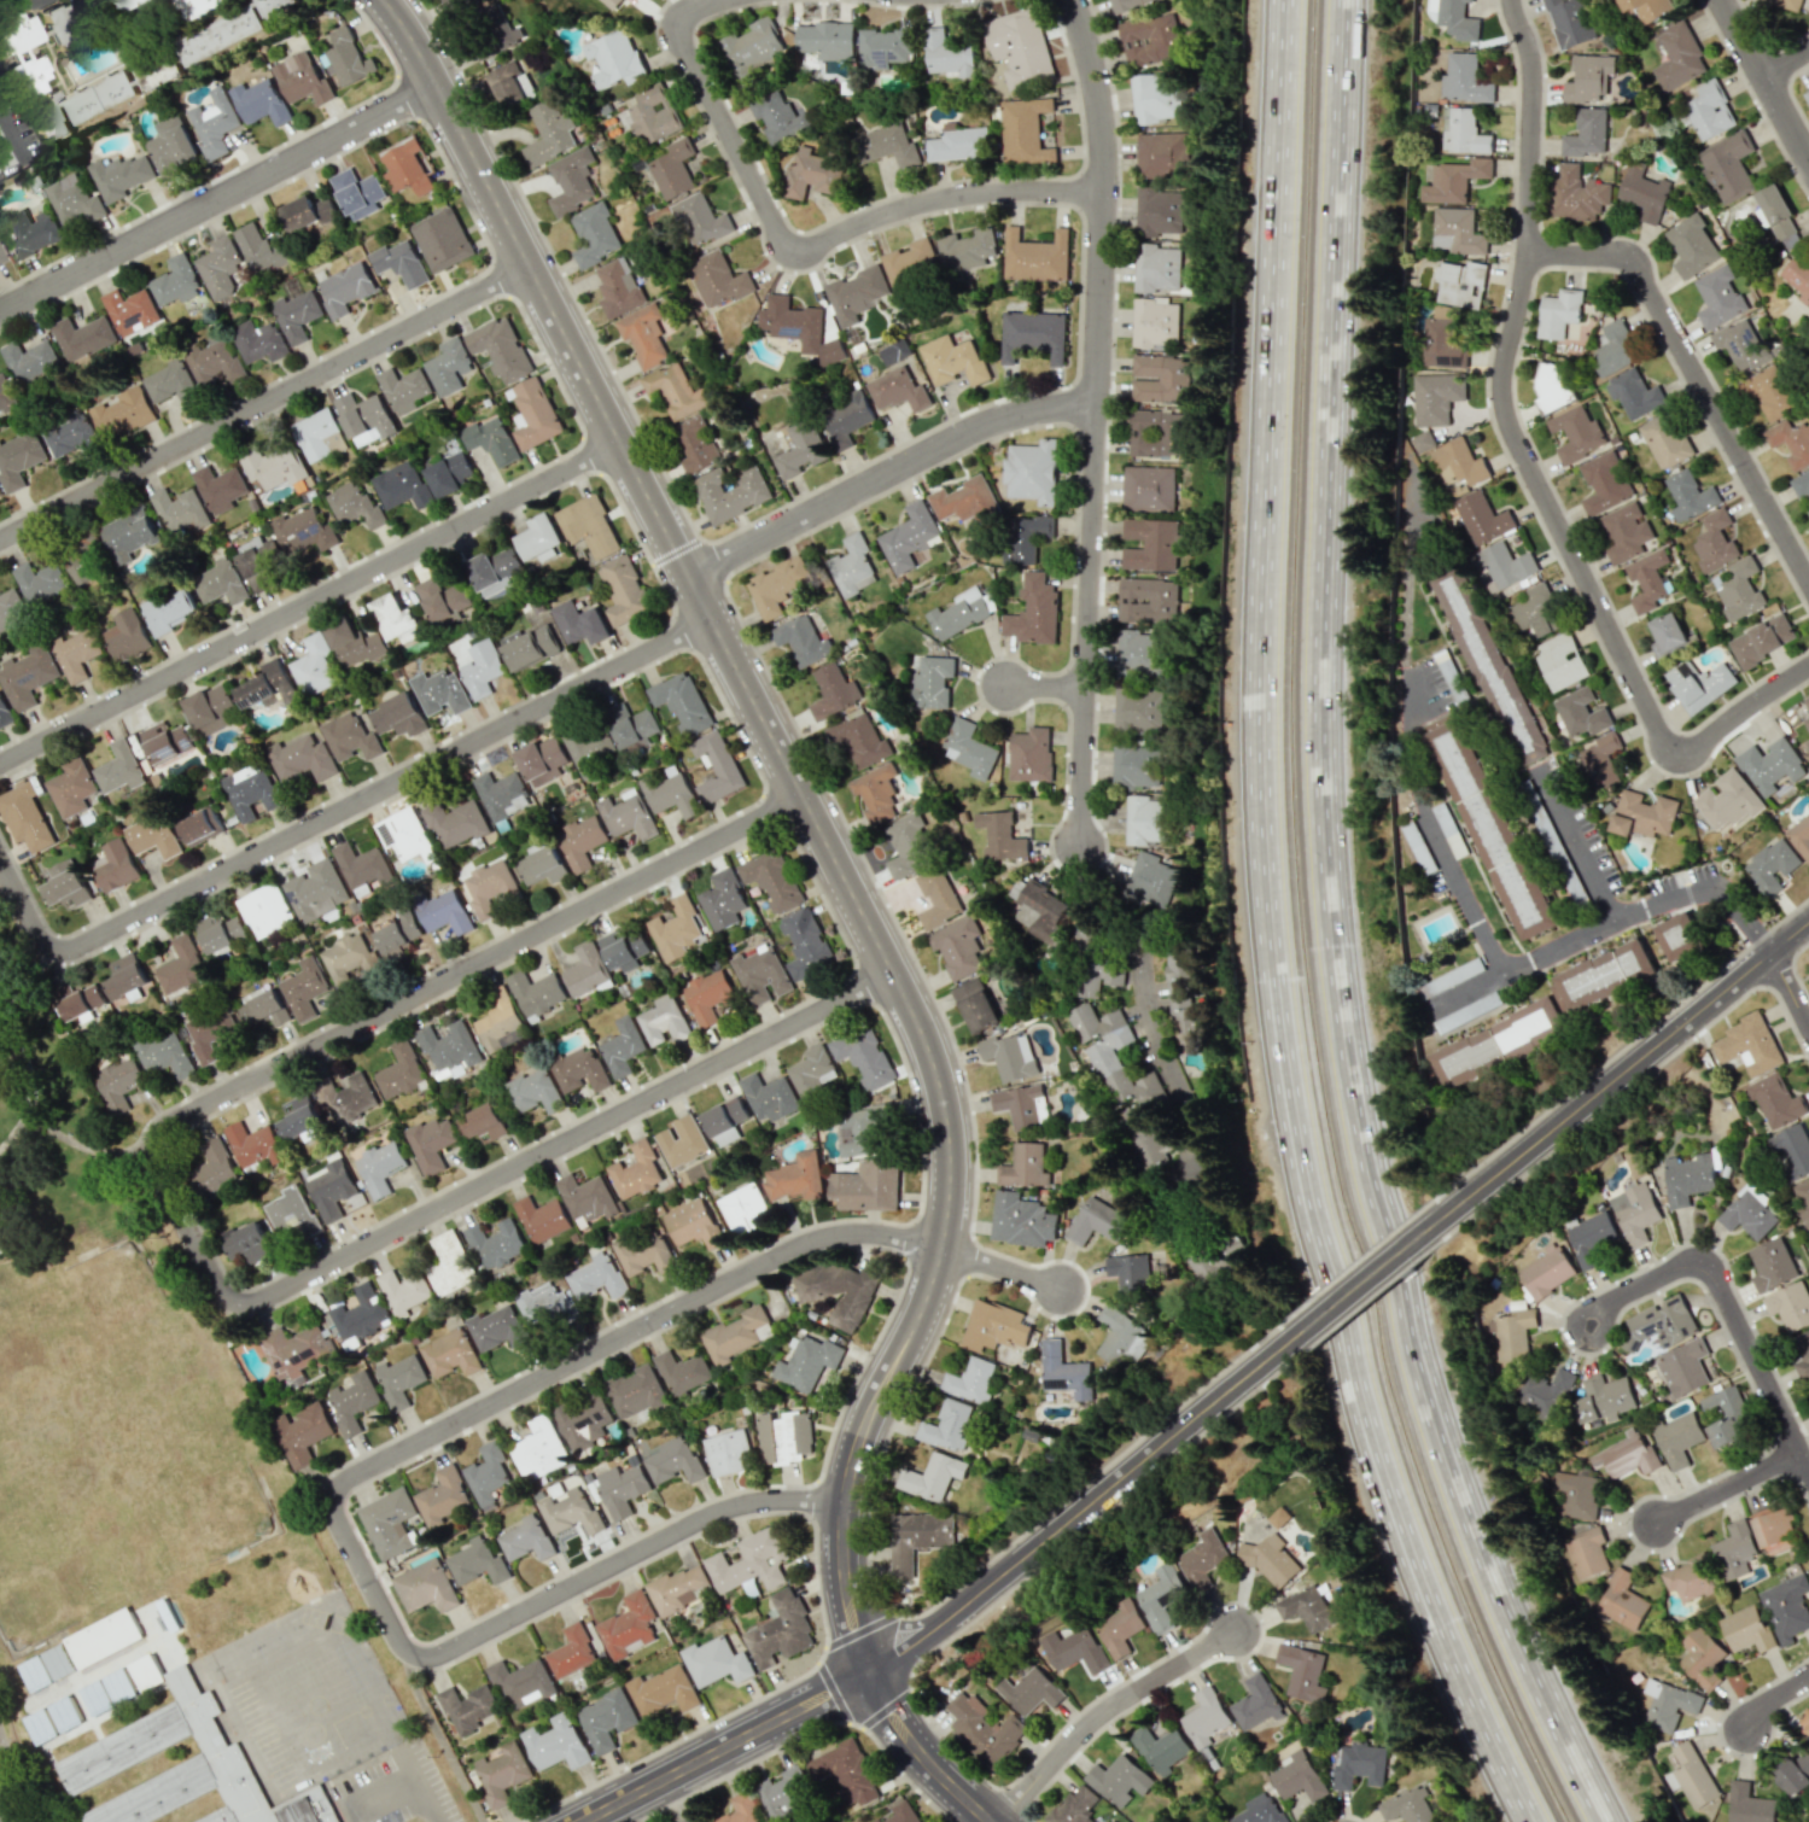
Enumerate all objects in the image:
road: (34, 1)
building: (611, 2)
building: (132, 4)
building: (1784, 4)
building: (1127, 5)
building: (276, 6)
building: (199, 7)
building: (1647, 8)
building: (1452, 18)
building: (490, 22)
building: (1568, 22)
building: (54, 23)
building: (222, 35)
building: (827, 40)
building: (1149, 40)
building: (752, 47)
building: (883, 47)
building: (1019, 47)
building: (947, 54)
building: (1677, 57)
building: (348, 58)
building: (613, 58)
road: (1785, 66)
building: (159, 70)
building: (302, 78)
building: (1588, 78)
building: (1463, 80)
road: (1763, 82)
building: (509, 84)
building: (101, 97)
building: (1154, 97)
building: (1807, 97)
building: (261, 101)
building: (649, 115)
building: (48, 117)
building: (778, 117)
building: (215, 122)
building: (1025, 130)
building: (549, 132)
building: (1461, 132)
building: (1586, 133)
road: (11, 142)
building: (171, 144)
building: (958, 144)
building: (886, 145)
building: (1161, 154)
building: (1727, 167)
building: (405, 168)
building: (672, 169)
building: (119, 175)
building: (572, 180)
building: (1453, 180)
building: (1642, 192)
building: (357, 193)
building: (1576, 194)
road: (221, 198)
building: (72, 199)
building: (307, 212)
building: (1161, 212)
building: (1778, 216)
building: (700, 218)
building: (30, 230)
building: (1455, 230)
building: (594, 234)
building: (442, 239)
building: (1692, 245)
building: (261, 249)
building: (965, 250)
building: (1035, 256)
building: (0, 258)
road: (794, 258)
building: (399, 262)
building: (220, 267)
building: (1156, 268)
building: (1797, 275)
building: (717, 279)
building: (175, 281)
building: (1459, 284)
building: (617, 287)
building: (345, 288)
building: (854, 293)
building: (1718, 297)
building: (130, 311)
building: (1558, 313)
building: (297, 314)
building: (1154, 323)
building: (798, 327)
building: (643, 334)
building: (1032, 335)
building: (83, 338)
building: (258, 340)
building: (1441, 341)
building: (1741, 345)
building: (500, 348)
building: (1613, 349)
building: (894, 351)
building: (952, 360)
building: (30, 361)
building: (214, 361)
building: (449, 366)
road: (1696, 375)
building: (1160, 379)
building: (171, 384)
building: (403, 389)
building: (676, 390)
building: (897, 390)
building: (1768, 392)
building: (1633, 393)
building: (6, 395)
building: (1435, 397)
road: (267, 403)
building: (123, 413)
building: (533, 414)
building: (364, 419)
building: (846, 419)
road: (1096, 421)
building: (315, 433)
building: (1156, 433)
building: (1576, 433)
building: (70, 434)
building: (492, 439)
building: (1422, 440)
building: (1791, 440)
building: (1664, 442)
building: (696, 445)
building: (799, 448)
building: (19, 457)
building: (1458, 462)
building: (274, 466)
road: (1529, 467)
building: (1032, 471)
road: (888, 472)
building: (449, 474)
building: (1604, 483)
building: (401, 485)
building: (220, 487)
building: (1146, 487)
building: (1803, 489)
building: (730, 492)
building: (1690, 496)
building: (965, 501)
building: (354, 504)
building: (181, 509)
building: (1481, 518)
building: (589, 526)
building: (304, 531)
building: (1624, 532)
building: (129, 533)
building: (908, 537)
building: (1025, 537)
building: (539, 538)
building: (1714, 541)
building: (1149, 544)
building: (258, 560)
building: (1502, 566)
building: (852, 567)
building: (77, 571)
building: (494, 571)
building: (1647, 580)
building: (40, 583)
building: (220, 583)
building: (777, 585)
building: (624, 589)
building: (1739, 589)
building: (1145, 600)
building: (443, 601)
road: (311, 603)
building: (11, 609)
building: (170, 609)
building: (1033, 611)
building: (1534, 611)
building: (961, 612)
building: (396, 619)
building: (579, 623)
building: (1668, 633)
building: (127, 635)
building: (801, 640)
building: (1762, 640)
building: (355, 642)
building: (530, 648)
building: (75, 653)
building: (1559, 660)
building: (314, 666)
building: (1487, 666)
building: (482, 668)
building: (27, 676)
building: (930, 681)
building: (1699, 683)
building: (269, 687)
road: (1048, 687)
building: (440, 691)
building: (833, 691)
building: (1807, 701)
building: (682, 702)
building: (211, 708)
building: (1137, 711)
building: (4, 713)
building: (1580, 713)
building: (398, 716)
building: (1807, 723)
building: (631, 726)
building: (350, 737)
building: (858, 738)
building: (165, 741)
building: (1807, 744)
building: (590, 748)
building: (967, 748)
building: (1029, 754)
building: (302, 758)
building: (542, 760)
building: (1601, 760)
building: (1133, 765)
building: (1770, 765)
building: (717, 766)
building: (119, 769)
building: (71, 788)
building: (250, 790)
building: (670, 793)
building: (875, 793)
building: (501, 794)
building: (1727, 800)
building: (1808, 805)
road: (337, 814)
building: (628, 814)
road: (807, 814)
building: (1642, 814)
building: (24, 817)
building: (1144, 819)
building: (455, 822)
building: (200, 827)
road: (1430, 830)
building: (1492, 830)
building: (153, 835)
building: (404, 835)
building: (999, 835)
building: (1799, 836)
building: (582, 841)
building: (909, 845)
building: (1417, 846)
road: (1576, 848)
building: (115, 865)
building: (542, 865)
building: (363, 866)
building: (1770, 866)
building: (772, 878)
building: (1150, 878)
building: (489, 886)
building: (65, 889)
building: (316, 890)
building: (936, 898)
building: (723, 899)
building: (264, 910)
building: (1038, 910)
building: (444, 912)
road: (1612, 924)
building: (676, 929)
building: (220, 932)
building: (1084, 932)
road: (1277, 932)
road: (1335, 934)
building: (398, 935)
building: (1679, 936)
building: (805, 941)
building: (624, 947)
building: (958, 947)
building: (349, 957)
building: (181, 967)
building: (585, 969)
building: (761, 974)
road: (1136, 974)
building: (1604, 974)
building: (1097, 977)
building: (1448, 979)
road: (1792, 987)
building: (304, 988)
building: (536, 993)
building: (706, 995)
building: (1181, 997)
building: (80, 1000)
building: (975, 1004)
building: (263, 1008)
building: (1465, 1011)
building: (664, 1021)
building: (1524, 1023)
building: (212, 1033)
building: (1747, 1044)
building: (622, 1046)
building: (449, 1047)
building: (164, 1055)
building: (1009, 1056)
building: (863, 1057)
building: (1464, 1057)
road: (1632, 1067)
road: (28, 1069)
building: (399, 1070)
building: (579, 1070)
building: (812, 1071)
building: (1121, 1078)
building: (118, 1082)
building: (535, 1091)
building: (769, 1097)
building: (346, 1098)
building: (1775, 1099)
building: (1021, 1105)
building: (298, 1117)
building: (725, 1120)
building: (482, 1123)
building: (860, 1129)
road: (69, 1139)
building: (682, 1141)
building: (430, 1143)
building: (253, 1144)
building: (1791, 1150)
building: (1023, 1166)
building: (379, 1167)
building: (214, 1169)
building: (636, 1170)
building: (794, 1178)
building: (1687, 1178)
building: (865, 1186)
building: (331, 1189)
building: (587, 1197)
building: (1802, 1198)
park: (69, 1205)
building: (743, 1209)
building: (291, 1210)
building: (1633, 1213)
building: (1746, 1213)
building: (542, 1219)
building: (1021, 1220)
building: (1099, 1220)
building: (691, 1224)
road: (191, 1228)
building: (1589, 1239)
building: (247, 1242)
building: (496, 1243)
building: (644, 1252)
building: (449, 1263)
building: (1772, 1265)
road: (1004, 1268)
building: (1545, 1272)
building: (1128, 1273)
road: (1372, 1273)
building: (597, 1277)
building: (404, 1291)
building: (836, 1291)
road: (1726, 1303)
building: (545, 1306)
building: (1790, 1306)
building: (357, 1315)
building: (1659, 1324)
building: (993, 1326)
building: (497, 1328)
building: (1512, 1331)
building: (734, 1335)
building: (1120, 1337)
building: (296, 1350)
building: (450, 1353)
building: (1801, 1354)
building: (805, 1362)
building: (1682, 1368)
building: (683, 1372)
building: (1063, 1372)
building: (399, 1379)
building: (969, 1380)
building: (635, 1391)
building: (1542, 1392)
building: (1603, 1398)
building: (352, 1401)
building: (1726, 1417)
building: (584, 1420)
building: (945, 1425)
building: (300, 1433)
building: (783, 1437)
building: (1679, 1440)
building: (539, 1449)
building: (726, 1452)
building: (1626, 1454)
building: (673, 1460)
building: (489, 1476)
building: (930, 1476)
road: (349, 1481)
road: (1727, 1490)
building: (1572, 1494)
building: (443, 1496)
road: (1078, 1505)
building: (571, 1512)
building: (1278, 1517)
building: (387, 1523)
building: (1775, 1529)
building: (526, 1538)
building: (914, 1542)
building: (1733, 1551)
building: (1585, 1552)
building: (1201, 1559)
building: (477, 1560)
building: (749, 1561)
building: (1271, 1561)
building: (1690, 1578)
building: (425, 1586)
building: (678, 1589)
building: (1146, 1598)
building: (1621, 1601)
building: (1786, 1607)
building: (1306, 1608)
building: (628, 1625)
building: (1119, 1628)
building: (1746, 1629)
building: (780, 1630)
building: (104, 1637)
building: (1073, 1649)
building: (571, 1652)
building: (1700, 1657)
building: (57, 1662)
building: (716, 1662)
building: (146, 1671)
building: (1302, 1671)
building: (521, 1682)
building: (663, 1690)
building: (1031, 1690)
building: (107, 1692)
road: (1774, 1699)
building: (1255, 1703)
building: (467, 1707)
road: (1107, 1711)
building: (64, 1713)
building: (1204, 1717)
building: (606, 1719)
building: (1804, 1721)
building: (984, 1729)
building: (555, 1744)
road: (724, 1746)
building: (1161, 1748)
road: (923, 1751)
building: (1359, 1765)
building: (183, 1768)
building: (846, 1771)
building: (502, 1773)
building: (1795, 1773)
building: (1297, 1776)
building: (1691, 1776)
road: (402, 1777)
building: (1119, 1780)
road: (12, 1782)
building: (784, 1793)
road: (5, 1804)
building: (1749, 1804)
building: (1074, 1805)
building: (1407, 1805)
building: (741, 1810)
building: (1259, 1810)
building: (901, 1812)
building: (694, 1820)
building: (1107, 1821)
building: (1220, 1821)

